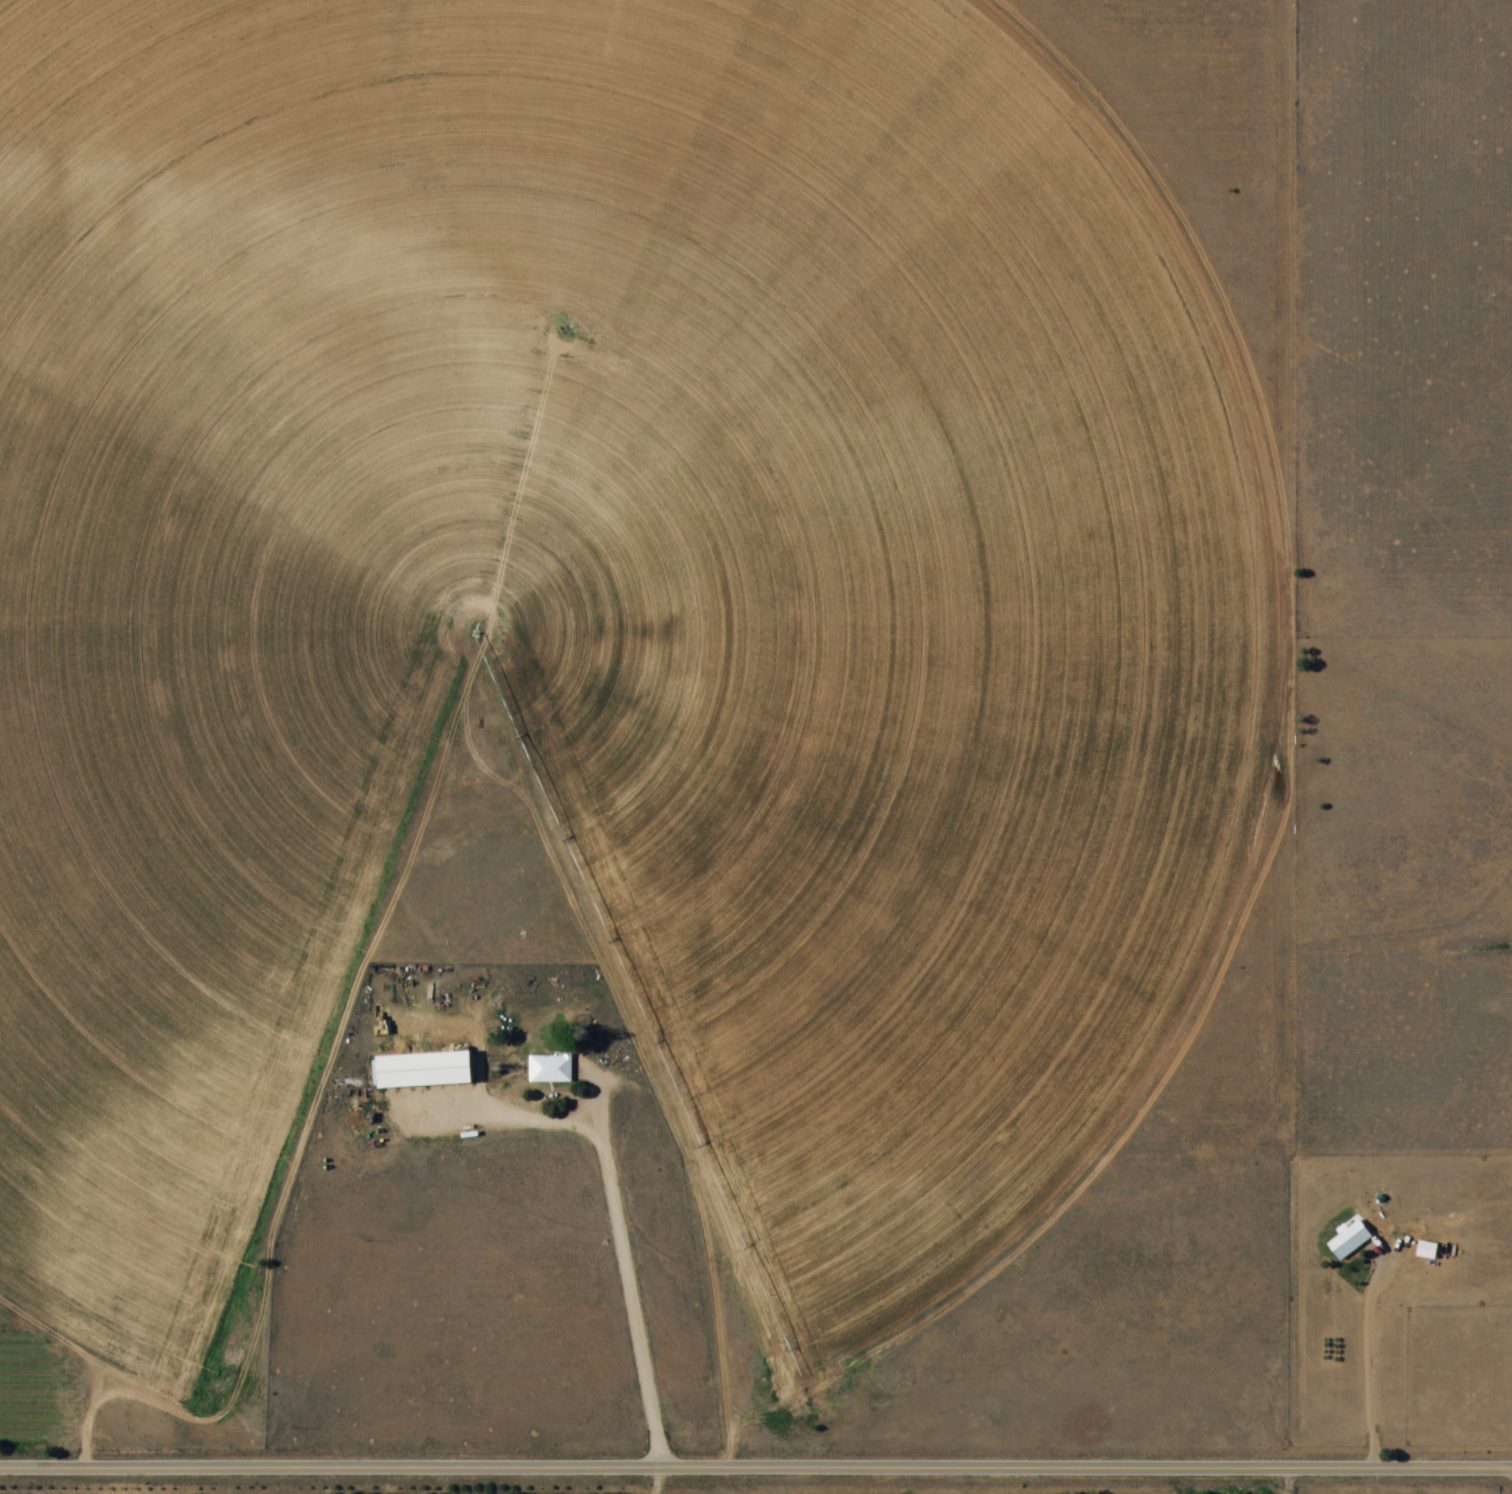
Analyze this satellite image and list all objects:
building: (551, 1069)
building: (429, 1071)
building: (1350, 1241)
building: (1428, 1251)
road: (756, 1466)

